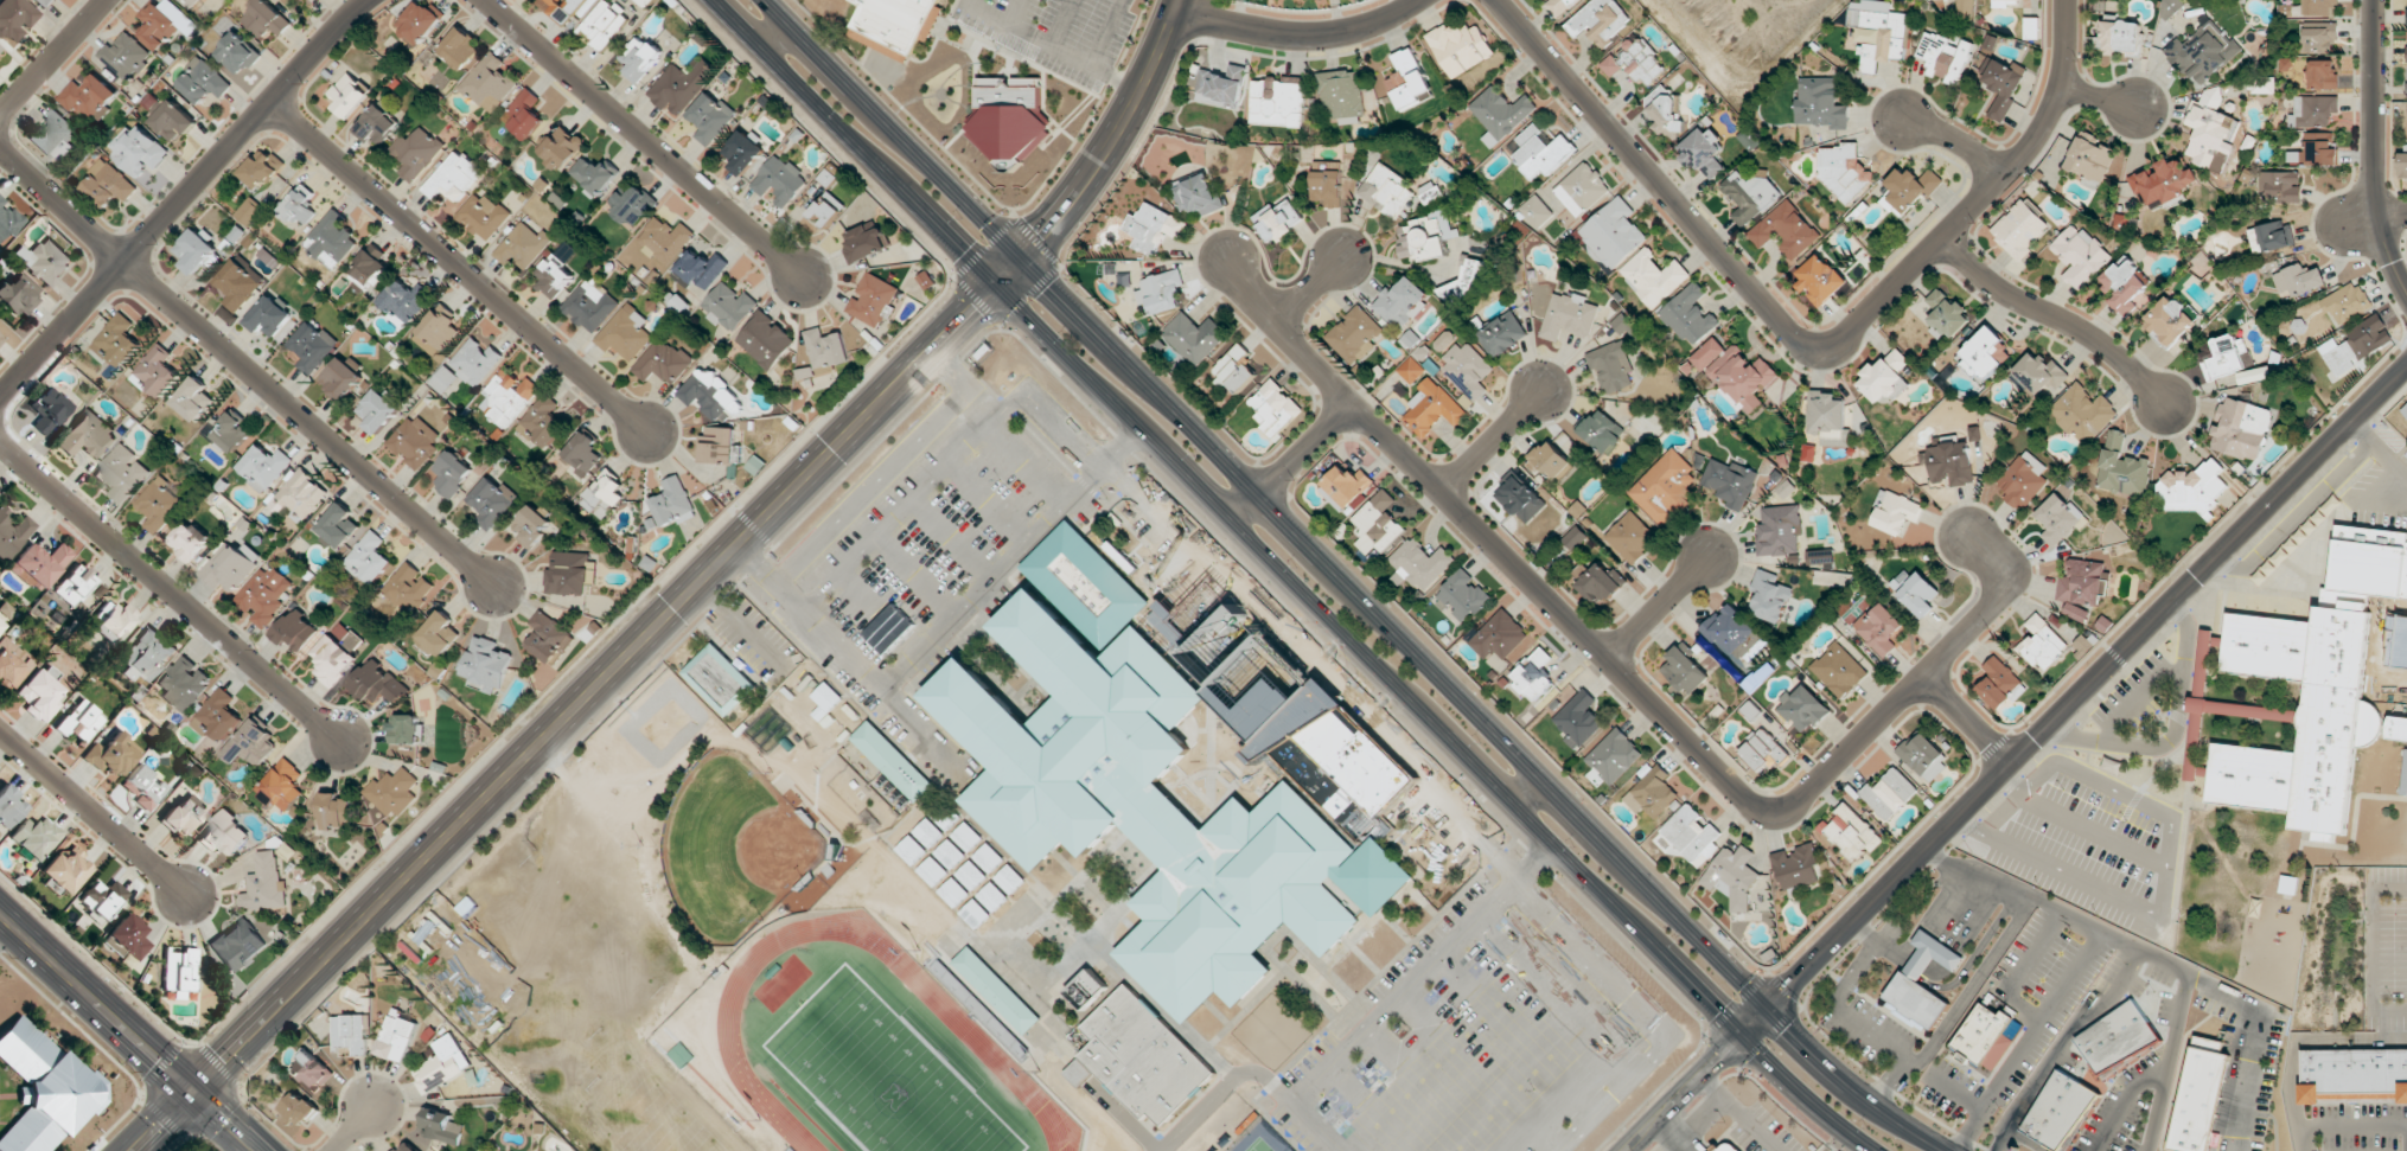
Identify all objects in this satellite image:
building: (313, 0)
building: (44, 2)
building: (190, 2)
building: (645, 2)
building: (2004, 4)
building: (1559, 5)
building: (568, 7)
building: (2172, 7)
building: (1965, 9)
building: (264, 19)
building: (417, 21)
building: (1600, 21)
building: (165, 23)
building: (896, 23)
building: (604, 25)
building: (2032, 27)
building: (1877, 32)
road: (1300, 36)
road: (775, 37)
building: (2120, 37)
building: (2318, 37)
building: (460, 47)
building: (1460, 47)
building: (2202, 52)
building: (237, 53)
building: (126, 56)
road: (51, 57)
building: (1943, 57)
building: (640, 58)
building: (1636, 63)
building: (2322, 75)
building: (1409, 81)
building: (203, 82)
building: (489, 83)
building: (2261, 84)
building: (2003, 85)
building: (679, 87)
building: (1222, 87)
building: (2406, 88)
building: (88, 96)
building: (347, 96)
building: (1343, 96)
road: (2100, 98)
building: (1277, 101)
building: (1820, 103)
building: (2313, 110)
building: (1666, 113)
building: (1501, 114)
building: (525, 115)
building: (710, 117)
building: (1008, 117)
building: (173, 121)
building: (2209, 128)
building: (53, 136)
road: (1955, 139)
road: (645, 141)
road: (2376, 146)
building: (562, 148)
building: (139, 149)
building: (2315, 151)
building: (743, 152)
building: (1541, 152)
building: (1704, 152)
building: (416, 153)
building: (2090, 161)
building: (2402, 164)
building: (1327, 165)
building: (262, 170)
building: (1844, 171)
building: (594, 175)
building: (454, 177)
building: (779, 180)
building: (110, 183)
building: (2280, 186)
building: (1328, 187)
building: (1582, 188)
building: (1909, 190)
road: (1079, 191)
building: (1387, 191)
building: (1198, 194)
building: (1749, 194)
road: (180, 198)
building: (631, 205)
building: (298, 206)
building: (826, 209)
building: (249, 211)
building: (1537, 212)
road: (2394, 213)
building: (484, 216)
building: (8, 219)
building: (1278, 219)
building: (1153, 228)
building: (2020, 229)
building: (1786, 230)
building: (1613, 234)
traffic signals: (1042, 236)
building: (1426, 237)
building: (2272, 237)
building: (665, 238)
building: (331, 239)
building: (866, 242)
building: (523, 245)
building: (196, 250)
traffic signals: (960, 251)
building: (2080, 255)
building: (45, 261)
road: (458, 267)
building: (371, 269)
building: (698, 269)
building: (555, 273)
building: (1653, 277)
building: (926, 280)
building: (1820, 280)
building: (2299, 280)
building: (1466, 281)
building: (238, 283)
building: (2126, 286)
traffic signals: (1048, 287)
road: (1310, 287)
building: (1160, 290)
building: (15, 296)
building: (873, 300)
building: (403, 301)
building: (1403, 302)
building: (2345, 302)
building: (590, 306)
building: (729, 307)
traffic signals: (972, 311)
building: (1688, 314)
building: (1946, 314)
building: (269, 315)
building: (1569, 316)
road: (2058, 319)
building: (2170, 320)
building: (1622, 324)
building: (436, 331)
building: (1503, 333)
building: (625, 334)
building: (1355, 334)
building: (1194, 337)
building: (1, 340)
building: (766, 340)
building: (1444, 340)
building: (117, 341)
building: (2355, 345)
building: (313, 346)
road: (1803, 349)
building: (823, 353)
building: (1707, 353)
building: (1985, 354)
building: (2224, 357)
building: (475, 362)
building: (662, 362)
road: (247, 365)
building: (1613, 366)
building: (1233, 370)
building: (1411, 370)
building: (1467, 372)
building: (2039, 375)
building: (1885, 377)
building: (341, 378)
building: (1742, 378)
building: (443, 379)
building: (710, 394)
building: (509, 397)
building: (193, 398)
building: (1273, 407)
building: (49, 410)
building: (1431, 410)
building: (2405, 410)
building: (378, 411)
building: (2082, 414)
building: (1827, 418)
building: (543, 422)
building: (2240, 428)
building: (231, 431)
building: (1602, 431)
building: (1974, 433)
building: (88, 436)
building: (414, 442)
road: (1494, 442)
road: (1122, 443)
building: (717, 445)
building: (583, 452)
building: (1550, 460)
road: (949, 462)
building: (1949, 462)
road: (890, 465)
road: (1290, 465)
building: (263, 467)
building: (2121, 467)
building: (122, 473)
building: (451, 473)
building: (2023, 480)
building: (1730, 481)
building: (1665, 486)
building: (1346, 487)
building: (2190, 488)
building: (605, 494)
building: (299, 497)
building: (1521, 499)
building: (492, 501)
building: (673, 503)
building: (159, 505)
road: (2303, 506)
building: (1895, 512)
building: (2057, 518)
building: (1378, 524)
building: (338, 525)
building: (532, 525)
building: (1780, 530)
building: (13, 532)
building: (1632, 537)
building: (1575, 538)
building: (189, 541)
building: (1820, 557)
building: (369, 558)
road: (754, 563)
building: (1420, 563)
building: (39, 564)
building: (230, 565)
building: (569, 574)
road: (1288, 577)
building: (1601, 582)
building: (75, 584)
road: (777, 584)
road: (1347, 584)
building: (2082, 587)
building: (410, 588)
road: (171, 592)
building: (1915, 592)
building: (264, 595)
building: (1770, 595)
building: (1462, 596)
road: (1661, 608)
building: (113, 620)
building: (2, 625)
road: (946, 625)
building: (889, 629)
building: (1878, 629)
building: (295, 631)
building: (1736, 633)
building: (438, 634)
building: (346, 637)
building: (548, 637)
building: (1499, 637)
building: (2042, 642)
building: (147, 656)
building: (2204, 659)
building: (332, 660)
building: (12, 664)
building: (486, 665)
building: (1839, 670)
building: (1685, 671)
building: (1533, 676)
building: (720, 680)
building: (184, 683)
building: (377, 683)
road: (1633, 684)
building: (1999, 684)
building: (2315, 688)
building: (40, 692)
building: (825, 701)
building: (1802, 709)
building: (217, 716)
building: (1578, 720)
road: (562, 721)
building: (81, 722)
road: (1968, 723)
building: (2396, 728)
building: (406, 729)
road: (2173, 730)
building: (251, 744)
building: (1763, 750)
building: (2192, 750)
building: (113, 755)
building: (1614, 755)
building: (1923, 756)
building: (893, 761)
road: (2017, 761)
building: (143, 786)
building: (282, 786)
building: (1148, 791)
building: (394, 792)
building: (1652, 792)
building: (1889, 793)
road: (1531, 794)
road: (1439, 802)
building: (8, 807)
building: (336, 811)
road: (92, 812)
building: (184, 814)
building: (928, 832)
building: (1851, 832)
building: (225, 835)
building: (1692, 836)
building: (966, 837)
building: (34, 838)
building: (911, 850)
building: (950, 853)
building: (988, 858)
road: (1531, 859)
building: (1796, 865)
building: (66, 870)
building: (932, 871)
building: (971, 875)
building: (1732, 876)
building: (1009, 878)
building: (264, 884)
building: (953, 893)
building: (103, 897)
building: (992, 897)
building: (975, 914)
road: (1866, 932)
building: (129, 936)
building: (237, 945)
road: (2139, 948)
building: (1932, 954)
building: (179, 972)
traffic signals: (1792, 986)
building: (997, 990)
building: (1087, 990)
road: (96, 1002)
building: (1914, 1002)
road: (1958, 1008)
road: (1380, 1010)
traffic signals: (1715, 1011)
road: (1844, 1011)
traffic signals: (1786, 1030)
building: (351, 1032)
building: (397, 1036)
building: (1986, 1036)
building: (2118, 1038)
road: (2026, 1040)
road: (2061, 1043)
traffic signals: (1720, 1059)
building: (1141, 1060)
building: (442, 1063)
building: (312, 1070)
park: (880, 1074)
building: (2355, 1074)
building: (45, 1089)
traffic signals: (193, 1092)
building: (2201, 1094)
building: (299, 1108)
building: (2058, 1108)
road: (161, 1121)
road: (225, 1121)
building: (442, 1127)
road: (353, 1128)
building: (407, 1146)
building: (1726, 1146)

